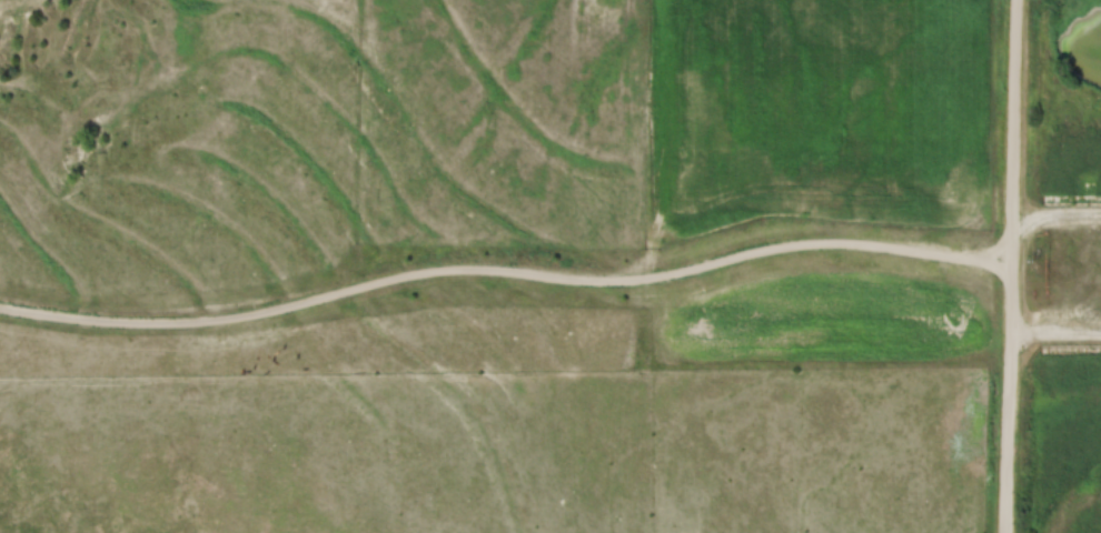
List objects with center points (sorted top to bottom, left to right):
road: (1058, 211)
road: (1013, 265)
road: (1057, 338)

